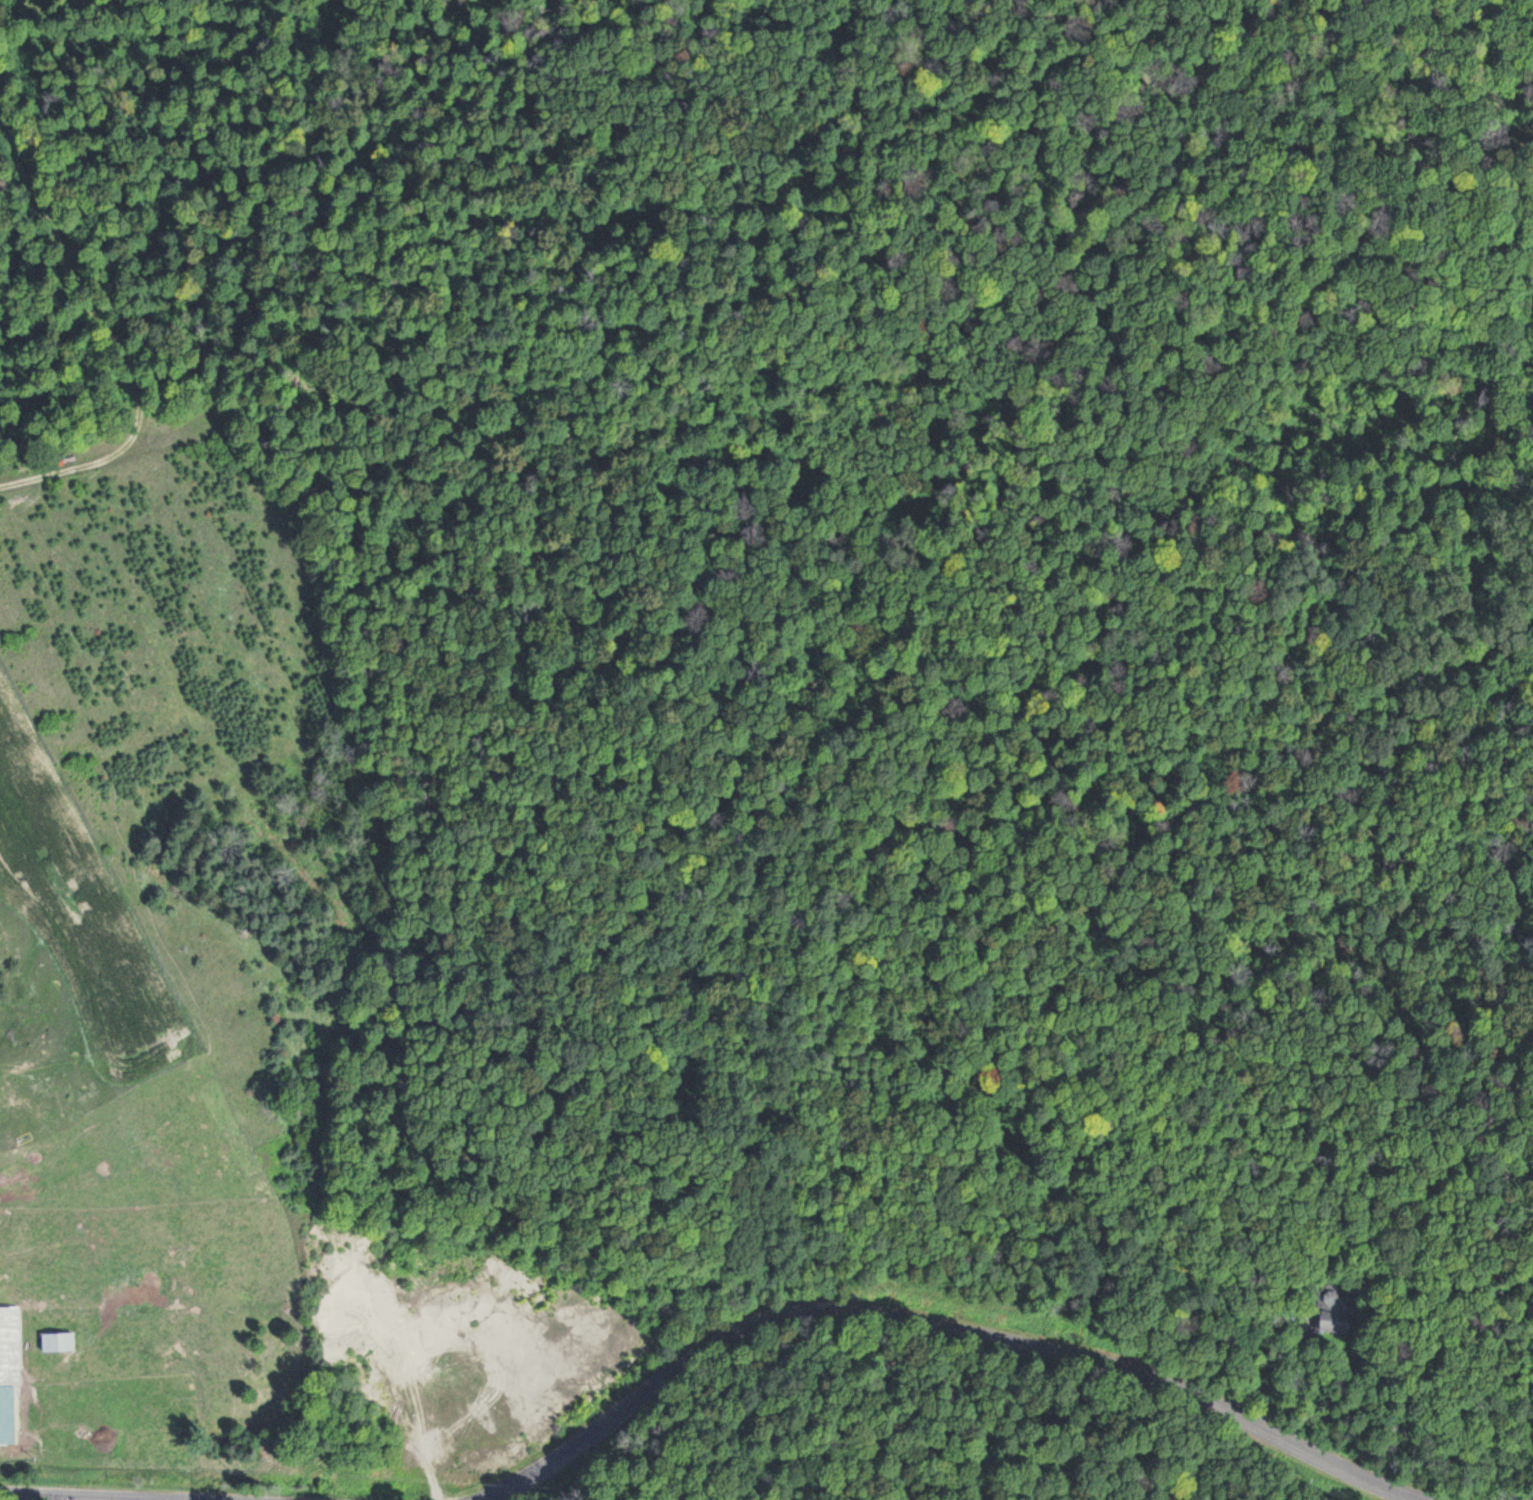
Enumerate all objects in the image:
building: (1332, 1311)
road: (943, 1334)
building: (56, 1343)
building: (8, 1371)
road: (28, 1498)

